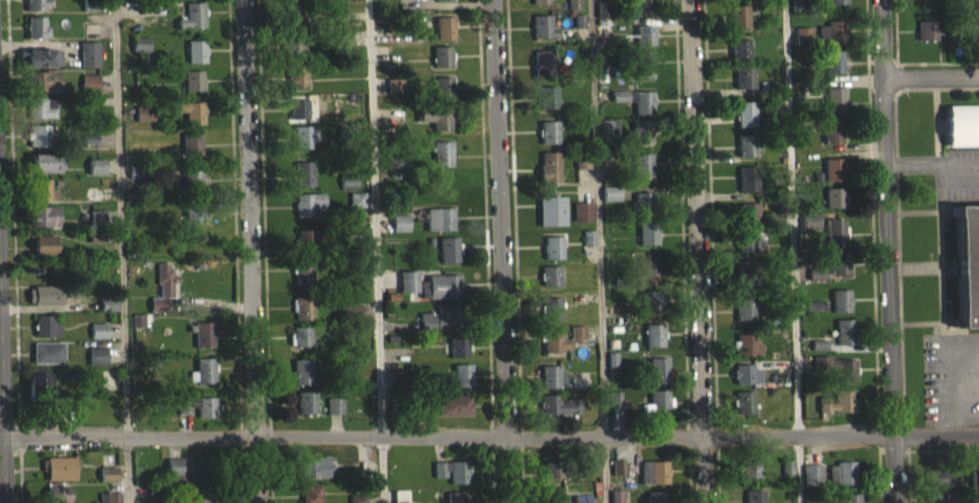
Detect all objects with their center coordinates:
building: (34, 4)
building: (443, 4)
building: (540, 6)
building: (834, 6)
building: (574, 10)
building: (642, 10)
building: (194, 11)
building: (292, 12)
building: (796, 12)
building: (602, 19)
building: (338, 23)
building: (542, 24)
building: (35, 25)
building: (192, 25)
building: (444, 26)
building: (738, 26)
building: (579, 31)
building: (543, 36)
building: (36, 37)
building: (926, 39)
building: (416, 40)
building: (832, 41)
building: (293, 45)
building: (644, 45)
building: (803, 45)
building: (195, 49)
building: (140, 53)
building: (442, 55)
building: (739, 58)
building: (544, 59)
building: (196, 61)
building: (642, 61)
building: (88, 63)
building: (39, 66)
building: (833, 71)
building: (543, 72)
building: (297, 74)
building: (642, 74)
building: (743, 76)
road: (932, 77)
building: (193, 78)
building: (36, 79)
building: (297, 85)
building: (443, 86)
building: (744, 87)
building: (42, 90)
building: (192, 90)
building: (89, 92)
building: (394, 95)
building: (548, 96)
building: (834, 97)
building: (643, 100)
building: (36, 106)
building: (548, 107)
building: (298, 108)
building: (636, 109)
building: (831, 110)
building: (92, 111)
building: (194, 111)
building: (744, 111)
building: (441, 115)
building: (41, 117)
building: (191, 122)
building: (143, 123)
building: (435, 126)
building: (640, 129)
building: (549, 130)
building: (38, 134)
building: (302, 135)
building: (961, 135)
building: (609, 136)
building: (831, 140)
building: (641, 141)
building: (191, 142)
building: (548, 142)
building: (746, 144)
building: (37, 145)
building: (304, 146)
building: (89, 148)
building: (442, 150)
building: (191, 153)
building: (549, 162)
building: (641, 162)
building: (442, 163)
building: (395, 168)
building: (303, 170)
building: (43, 172)
building: (641, 175)
building: (747, 175)
building: (95, 176)
building: (833, 179)
building: (192, 180)
building: (134, 182)
building: (443, 182)
building: (303, 183)
building: (39, 188)
building: (747, 188)
building: (348, 190)
building: (443, 194)
building: (43, 200)
building: (643, 202)
building: (92, 203)
building: (303, 203)
building: (610, 203)
building: (833, 207)
building: (356, 209)
building: (194, 211)
building: (747, 211)
building: (642, 213)
building: (44, 214)
road: (790, 218)
building: (551, 220)
building: (582, 221)
building: (748, 222)
building: (193, 223)
building: (45, 226)
building: (96, 228)
building: (439, 228)
building: (810, 230)
building: (399, 232)
building: (647, 232)
building: (305, 238)
building: (745, 239)
building: (835, 241)
building: (552, 245)
building: (95, 247)
building: (447, 247)
building: (588, 247)
building: (305, 249)
road: (121, 251)
road: (252, 251)
road: (375, 251)
road: (499, 251)
road: (601, 251)
road: (697, 251)
road: (887, 251)
building: (44, 254)
building: (552, 257)
building: (967, 262)
building: (648, 266)
building: (303, 268)
building: (839, 272)
building: (549, 274)
building: (746, 275)
building: (648, 280)
building: (303, 281)
building: (816, 283)
building: (448, 284)
building: (549, 285)
building: (746, 286)
building: (407, 291)
building: (163, 296)
building: (439, 296)
building: (652, 299)
building: (43, 304)
building: (303, 306)
building: (551, 306)
building: (744, 307)
building: (840, 310)
building: (108, 313)
building: (453, 314)
building: (813, 315)
building: (303, 318)
building: (550, 318)
building: (744, 319)
building: (438, 327)
building: (138, 330)
building: (204, 331)
building: (653, 334)
building: (46, 335)
building: (551, 337)
building: (98, 340)
building: (844, 341)
building: (204, 343)
building: (745, 343)
building: (300, 346)
building: (818, 354)
building: (458, 357)
building: (47, 362)
building: (97, 365)
building: (204, 367)
building: (658, 367)
building: (611, 368)
building: (302, 370)
building: (743, 372)
building: (461, 373)
building: (549, 375)
building: (837, 377)
building: (203, 380)
building: (745, 383)
building: (461, 385)
building: (552, 386)
building: (38, 393)
building: (744, 399)
building: (306, 400)
building: (658, 400)
building: (206, 405)
building: (614, 408)
road: (3, 410)
building: (306, 411)
building: (744, 411)
building: (836, 411)
building: (454, 414)
building: (334, 415)
building: (558, 415)
building: (198, 416)
road: (489, 435)
road: (802, 469)
building: (314, 476)
building: (618, 476)
building: (58, 477)
building: (184, 477)
building: (593, 477)
building: (786, 477)
building: (551, 479)
building: (451, 481)
building: (749, 481)
building: (654, 482)
building: (841, 482)
building: (108, 483)
building: (811, 484)
building: (973, 487)
building: (938, 488)
building: (56, 498)
building: (311, 498)
building: (554, 499)
building: (616, 501)
building: (753, 501)
building: (109, 502)
building: (205, 502)
building: (455, 502)
building: (655, 502)

